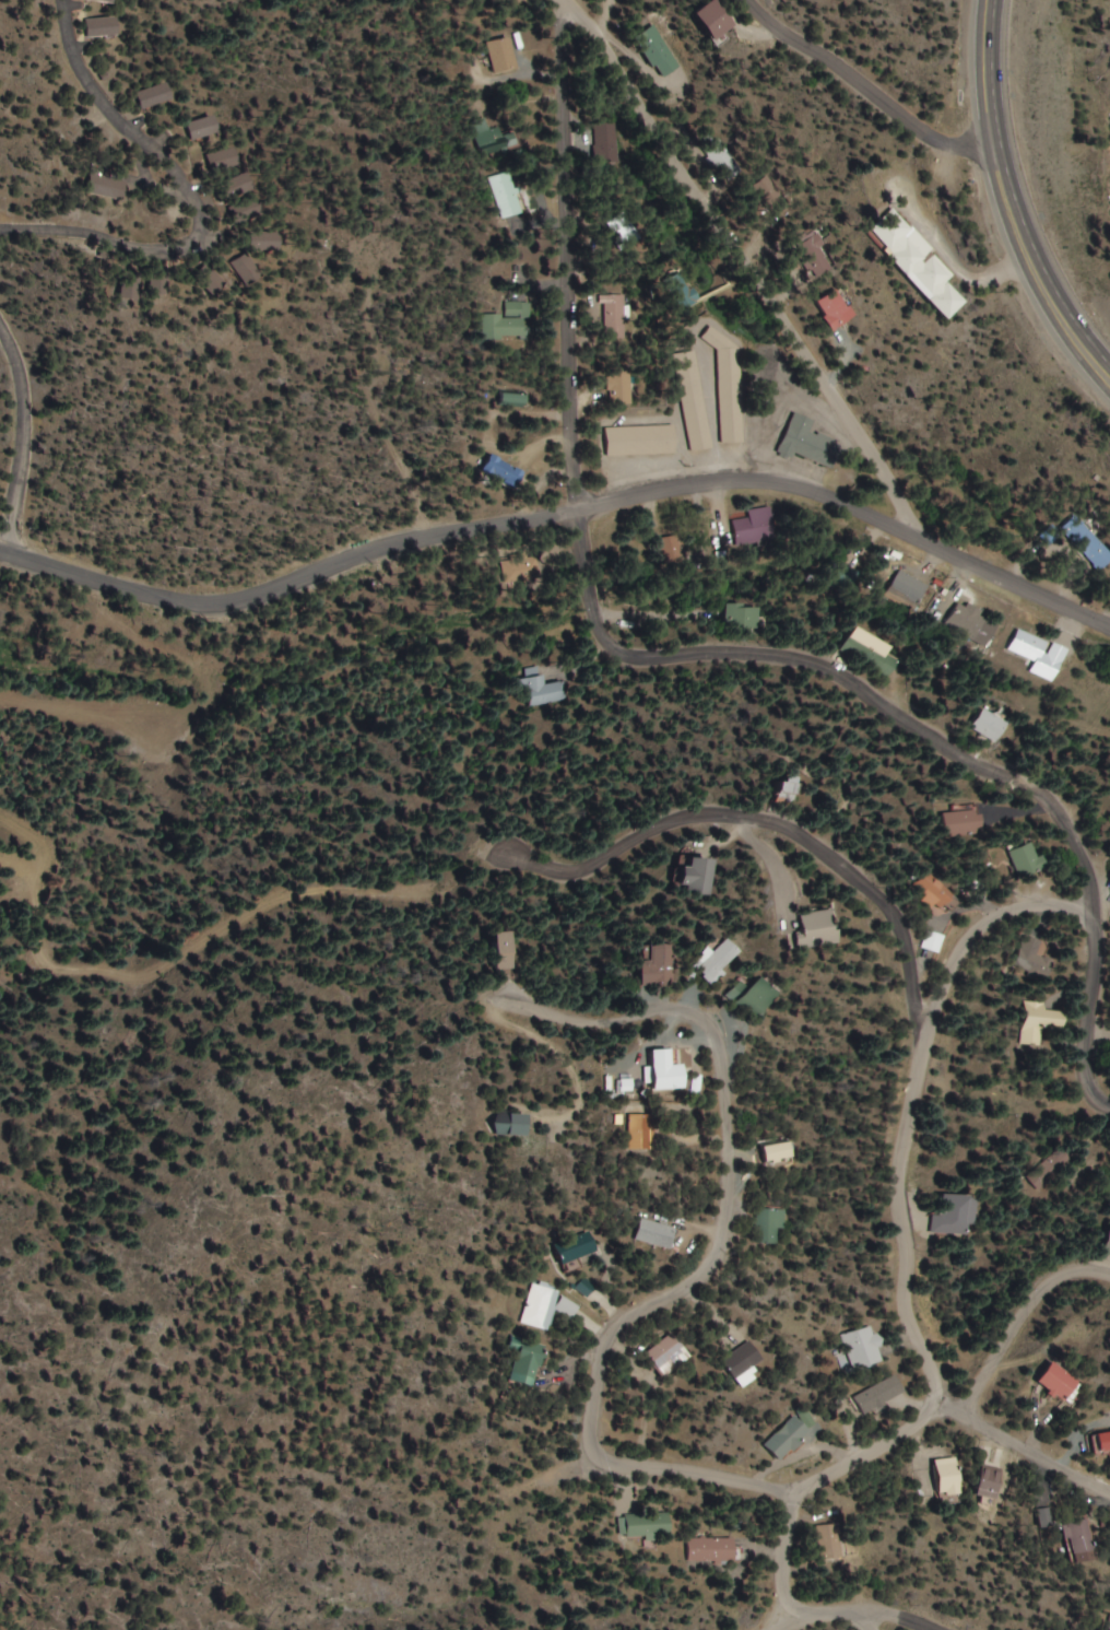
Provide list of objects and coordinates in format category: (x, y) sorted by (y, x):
building: (99, 1)
building: (715, 19)
building: (95, 27)
building: (656, 51)
building: (499, 55)
building: (151, 95)
road: (873, 101)
building: (201, 127)
building: (492, 139)
building: (605, 143)
building: (226, 157)
building: (238, 184)
building: (106, 187)
building: (505, 195)
road: (190, 197)
road: (1002, 203)
building: (249, 208)
building: (264, 238)
road: (795, 246)
building: (813, 256)
building: (918, 262)
building: (247, 268)
building: (160, 280)
building: (212, 281)
building: (129, 284)
building: (685, 292)
building: (834, 308)
building: (612, 316)
building: (506, 323)
building: (617, 385)
building: (727, 387)
building: (512, 399)
building: (690, 400)
building: (638, 441)
building: (805, 443)
road: (24, 445)
building: (498, 470)
road: (564, 517)
building: (753, 527)
building: (1086, 542)
building: (669, 550)
building: (839, 576)
building: (902, 589)
building: (739, 617)
building: (963, 621)
road: (582, 632)
building: (864, 652)
building: (1035, 654)
building: (542, 691)
building: (988, 726)
building: (789, 784)
building: (959, 822)
road: (768, 826)
building: (1023, 859)
building: (692, 876)
building: (930, 891)
road: (985, 926)
building: (815, 927)
building: (931, 942)
building: (500, 951)
building: (1032, 959)
building: (712, 960)
building: (654, 966)
building: (756, 997)
road: (1086, 1019)
building: (1037, 1022)
building: (665, 1071)
building: (640, 1133)
road: (729, 1151)
building: (779, 1153)
building: (1050, 1168)
building: (953, 1215)
road: (898, 1218)
building: (770, 1226)
building: (657, 1233)
building: (1107, 1244)
building: (576, 1247)
building: (541, 1305)
building: (862, 1348)
building: (669, 1355)
building: (742, 1360)
building: (528, 1361)
building: (1055, 1382)
road: (978, 1387)
building: (881, 1394)
road: (948, 1409)
building: (791, 1435)
building: (1101, 1442)
road: (871, 1454)
road: (610, 1459)
building: (947, 1477)
building: (990, 1482)
building: (1046, 1518)
building: (648, 1525)
building: (1081, 1538)
building: (829, 1543)
building: (710, 1550)
road: (784, 1551)
road: (828, 1611)
road: (905, 1616)
road: (869, 1619)
road: (780, 1622)

